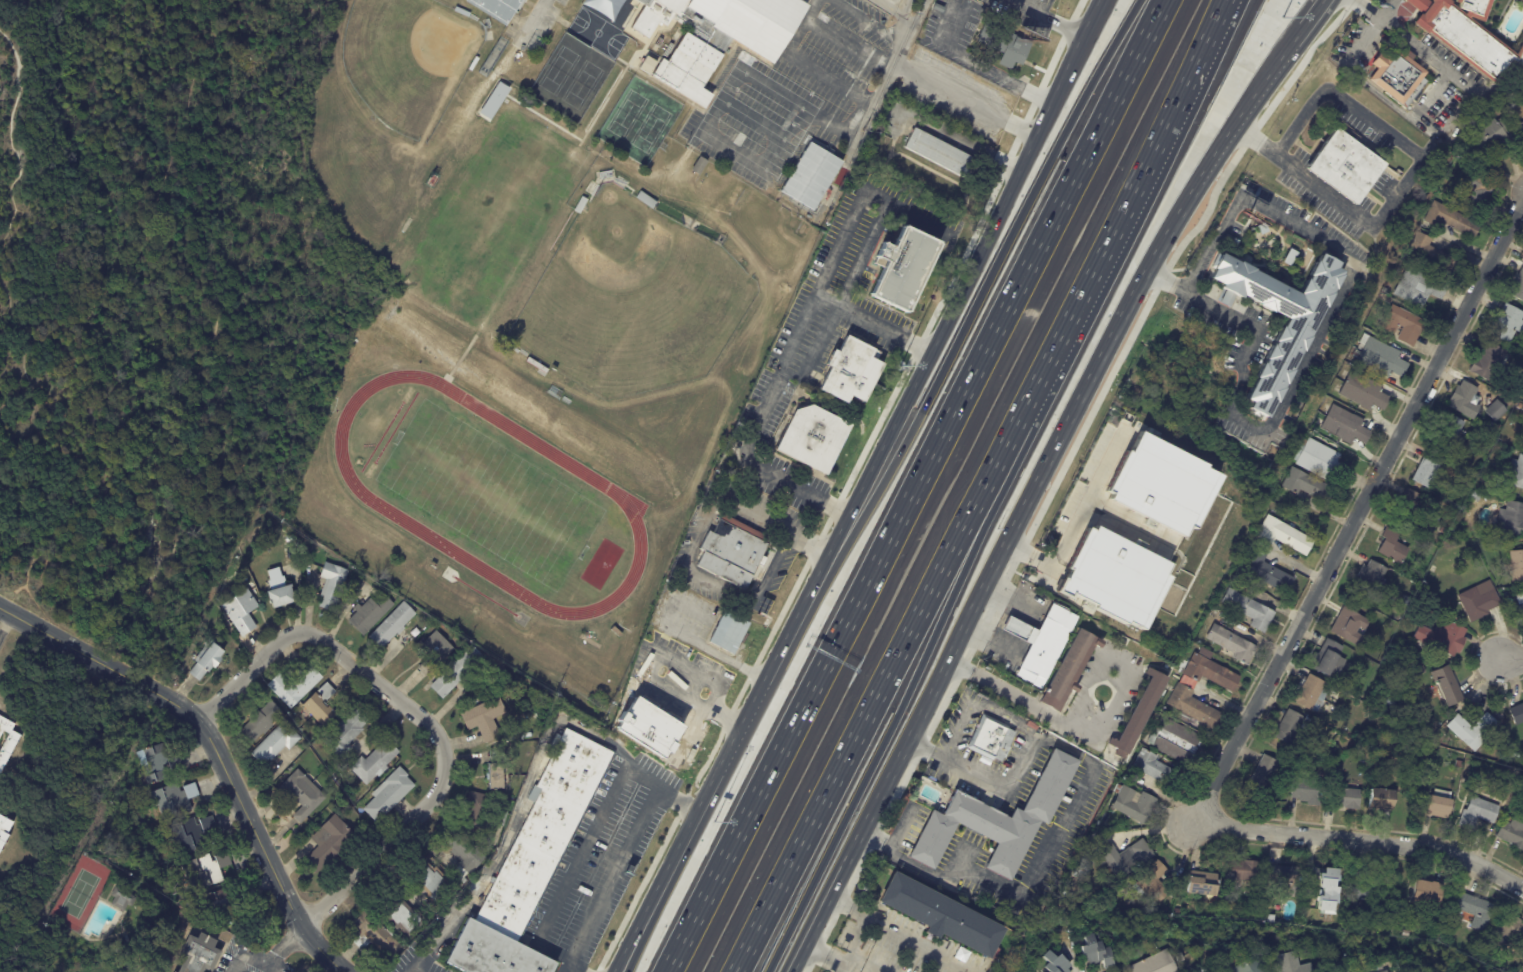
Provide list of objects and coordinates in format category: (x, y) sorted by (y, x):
parking lot: (892, 2)
building: (495, 9)
road: (890, 10)
road: (909, 11)
road: (912, 11)
building: (464, 12)
road: (1043, 19)
road: (530, 20)
road: (862, 21)
road: (1313, 23)
parking lot: (541, 26)
road: (1368, 32)
building: (1466, 34)
building: (716, 36)
road: (822, 37)
building: (1007, 48)
park: (406, 59)
road: (1437, 62)
building: (476, 64)
road: (983, 69)
road: (811, 72)
building: (1397, 74)
road: (740, 75)
park: (569, 77)
road: (880, 80)
building: (498, 92)
road: (1430, 94)
road: (961, 101)
road: (1390, 102)
parking lot: (793, 103)
park: (640, 118)
building: (1520, 133)
building: (1485, 137)
road: (1430, 147)
building: (938, 151)
road: (746, 159)
building: (1343, 164)
building: (697, 166)
building: (810, 176)
road: (1407, 179)
building: (1472, 186)
building: (649, 201)
road: (858, 205)
building: (584, 206)
building: (1450, 219)
road: (1118, 220)
building: (1431, 253)
road: (1348, 260)
building: (903, 268)
building: (1517, 286)
road: (961, 287)
building: (1417, 287)
road: (983, 289)
park: (632, 301)
road: (1219, 310)
building: (1505, 322)
building: (1403, 324)
building: (1295, 331)
building: (1380, 357)
building: (1486, 362)
building: (855, 369)
road: (781, 372)
building: (1362, 391)
building: (1521, 397)
building: (1463, 400)
building: (1495, 410)
building: (1344, 425)
building: (1494, 428)
building: (1446, 432)
building: (815, 437)
building: (1319, 459)
building: (1426, 469)
building: (1516, 472)
building: (1161, 484)
road: (915, 485)
building: (1308, 486)
track: (618, 494)
building: (1475, 495)
road: (1029, 500)
building: (1406, 506)
road: (1358, 511)
road: (1077, 518)
building: (1511, 518)
road: (1123, 527)
building: (1442, 529)
building: (1283, 535)
road: (694, 545)
building: (1391, 545)
building: (733, 552)
building: (1516, 565)
building: (1434, 568)
building: (1264, 571)
building: (452, 576)
building: (1113, 577)
building: (1369, 578)
building: (334, 585)
building: (283, 590)
road: (1014, 598)
building: (1404, 600)
building: (1478, 600)
road: (1018, 609)
building: (1248, 609)
building: (1517, 611)
building: (243, 612)
building: (372, 614)
building: (428, 620)
road: (4, 624)
building: (1347, 624)
building: (395, 625)
road: (1009, 625)
road: (1020, 630)
building: (618, 632)
building: (730, 632)
road: (683, 636)
building: (1442, 637)
road: (1002, 640)
building: (1038, 641)
building: (591, 642)
road: (991, 642)
building: (1231, 643)
building: (437, 648)
road: (1510, 657)
building: (1328, 659)
building: (209, 660)
road: (653, 666)
building: (1209, 670)
building: (1419, 670)
building: (459, 671)
building: (1069, 671)
building: (297, 686)
building: (1445, 686)
building: (1311, 693)
building: (1386, 704)
road: (871, 705)
building: (324, 706)
building: (1190, 707)
road: (898, 710)
building: (1517, 713)
building: (1137, 714)
road: (422, 716)
road: (725, 716)
building: (488, 719)
building: (264, 721)
road: (697, 723)
building: (1327, 723)
building: (1290, 726)
building: (654, 728)
building: (1473, 729)
road: (1096, 733)
building: (348, 734)
building: (538, 736)
building: (989, 738)
building: (1175, 742)
building: (279, 743)
road: (734, 745)
building: (9, 751)
building: (310, 751)
road: (213, 752)
road: (1027, 753)
building: (1292, 758)
building: (377, 762)
building: (164, 763)
building: (1459, 764)
building: (1158, 770)
building: (498, 771)
building: (1263, 775)
road: (666, 788)
building: (1421, 791)
building: (1306, 792)
building: (303, 795)
building: (391, 795)
building: (1342, 798)
building: (1380, 799)
building: (175, 800)
building: (1397, 800)
building: (1133, 804)
building: (1438, 804)
building: (480, 810)
building: (1478, 812)
building: (995, 821)
road: (902, 827)
building: (5, 832)
building: (202, 833)
building: (1512, 833)
road: (1362, 840)
building: (332, 843)
building: (465, 853)
road: (583, 855)
building: (1125, 859)
building: (1084, 863)
building: (1241, 870)
building: (1284, 870)
building: (208, 871)
building: (526, 871)
road: (612, 872)
building: (1151, 883)
building: (1199, 883)
building: (436, 884)
building: (1363, 887)
road: (1026, 889)
building: (1326, 890)
building: (1425, 894)
building: (124, 899)
building: (226, 905)
road: (813, 908)
building: (1474, 909)
building: (1177, 911)
building: (938, 916)
building: (401, 918)
road: (859, 926)
building: (1508, 929)
building: (1405, 934)
building: (377, 936)
road: (630, 943)
road: (635, 943)
road: (914, 944)
road: (284, 948)
building: (1094, 952)
building: (203, 953)
road: (823, 955)
road: (250, 956)
road: (560, 956)
building: (1054, 963)
building: (1289, 963)
road: (861, 964)
building: (1154, 964)
building: (1249, 965)
road: (564, 966)
road: (415, 967)
building: (1385, 971)

